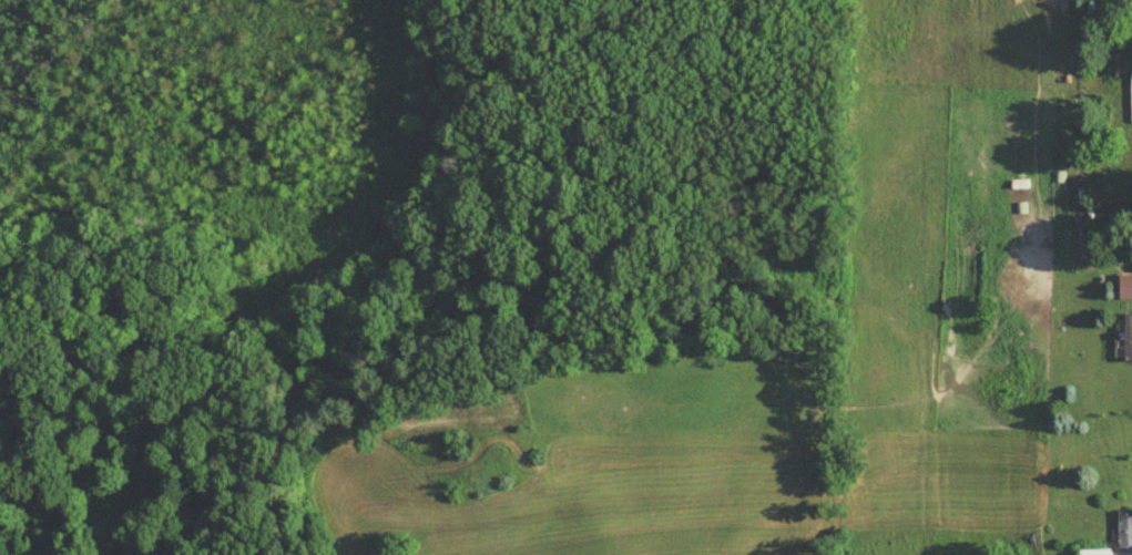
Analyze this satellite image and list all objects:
building: (1131, 104)
building: (1124, 292)
building: (1126, 342)
building: (1123, 535)

